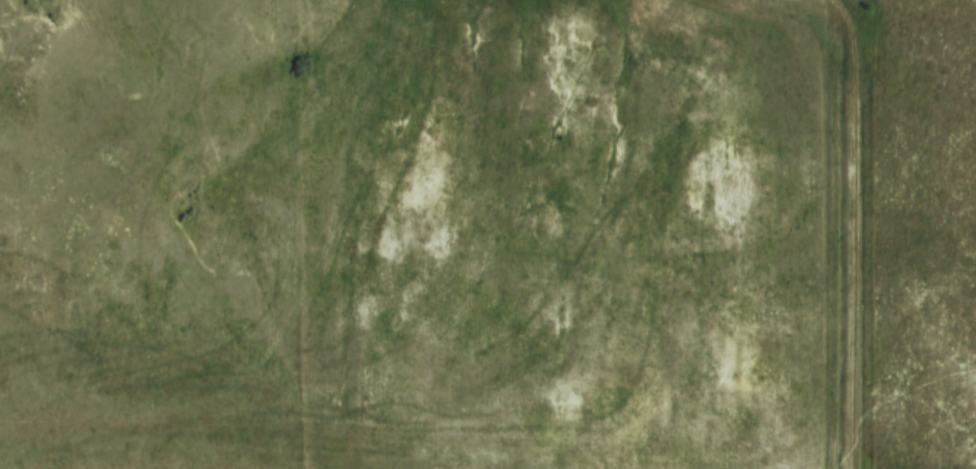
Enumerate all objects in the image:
road: (854, 232)

